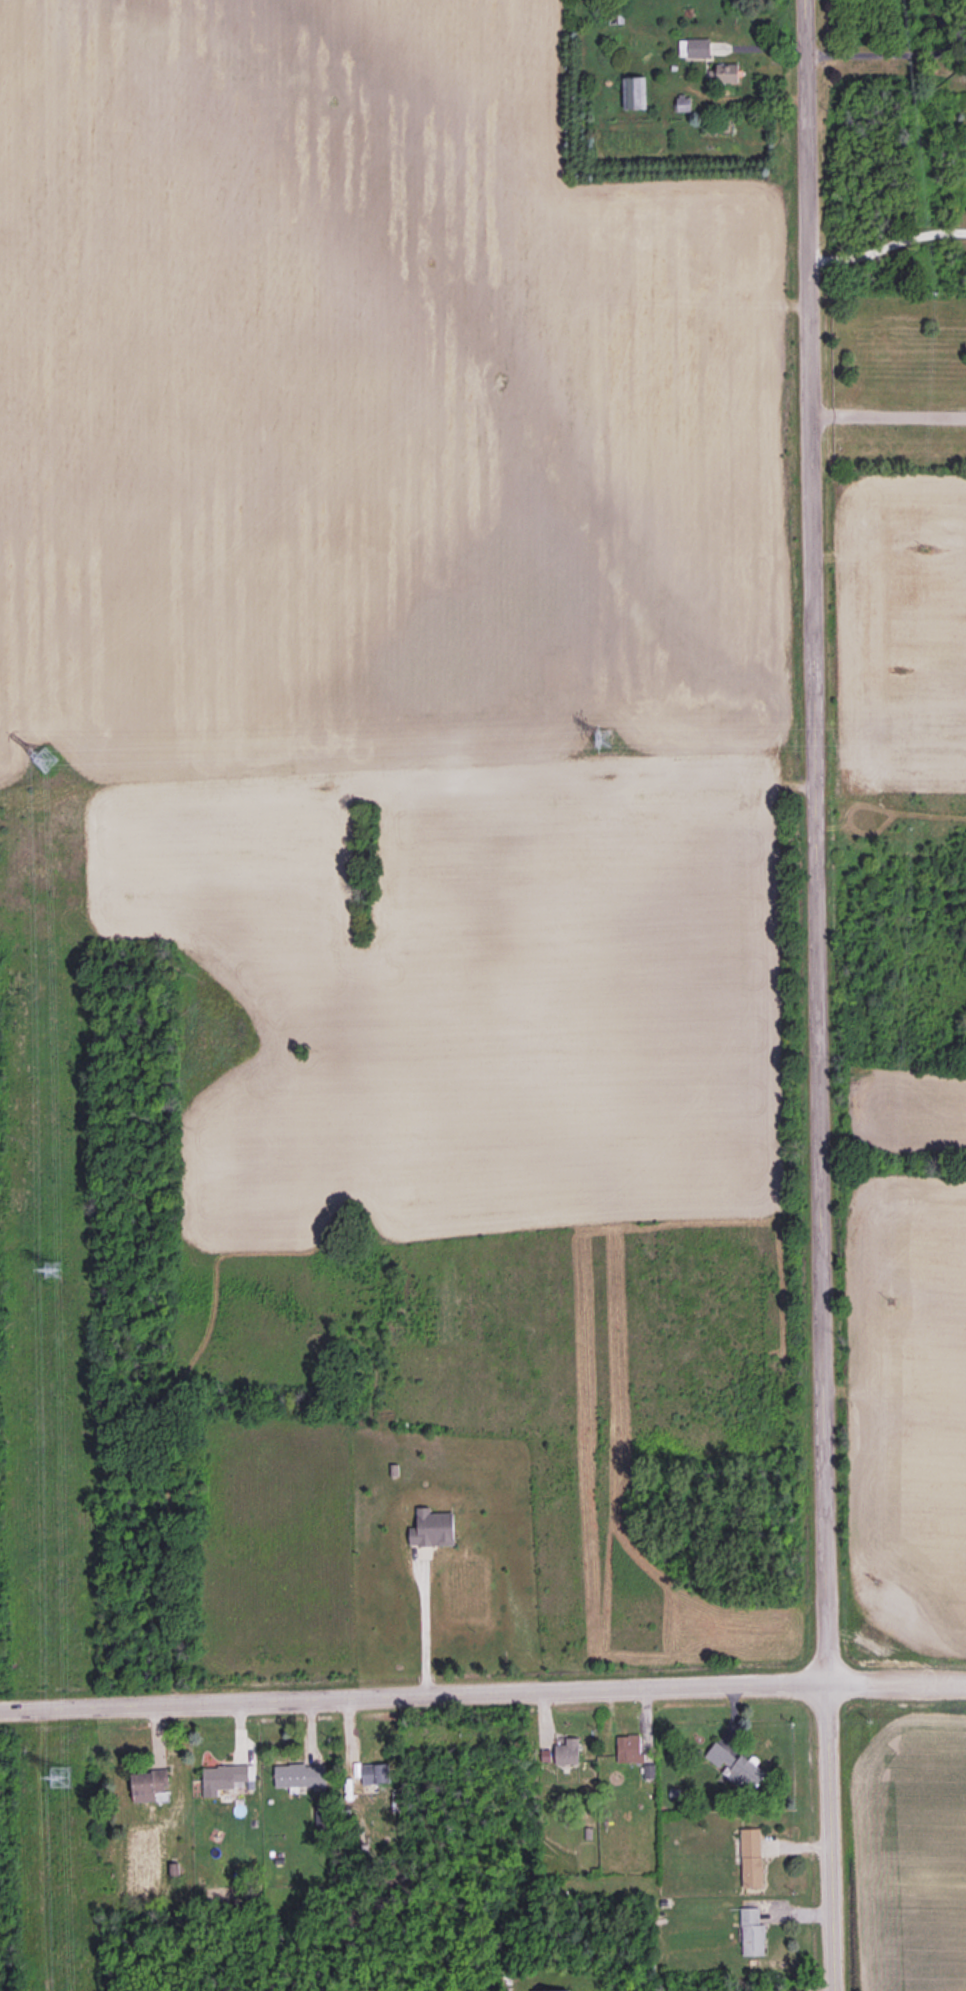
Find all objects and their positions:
building: (694, 47)
road: (893, 54)
building: (727, 72)
building: (634, 92)
building: (683, 103)
road: (887, 246)
road: (888, 415)
power tower: (600, 737)
power tower: (43, 758)
road: (816, 840)
power tower: (51, 1270)
building: (432, 1528)
road: (426, 1630)
road: (897, 1682)
road: (414, 1695)
building: (629, 1748)
building: (567, 1750)
building: (735, 1766)
building: (375, 1773)
building: (300, 1774)
power tower: (59, 1775)
building: (225, 1777)
building: (147, 1784)
road: (831, 1836)
building: (751, 1857)
building: (752, 1932)
road: (822, 1988)
building: (552, 1990)

